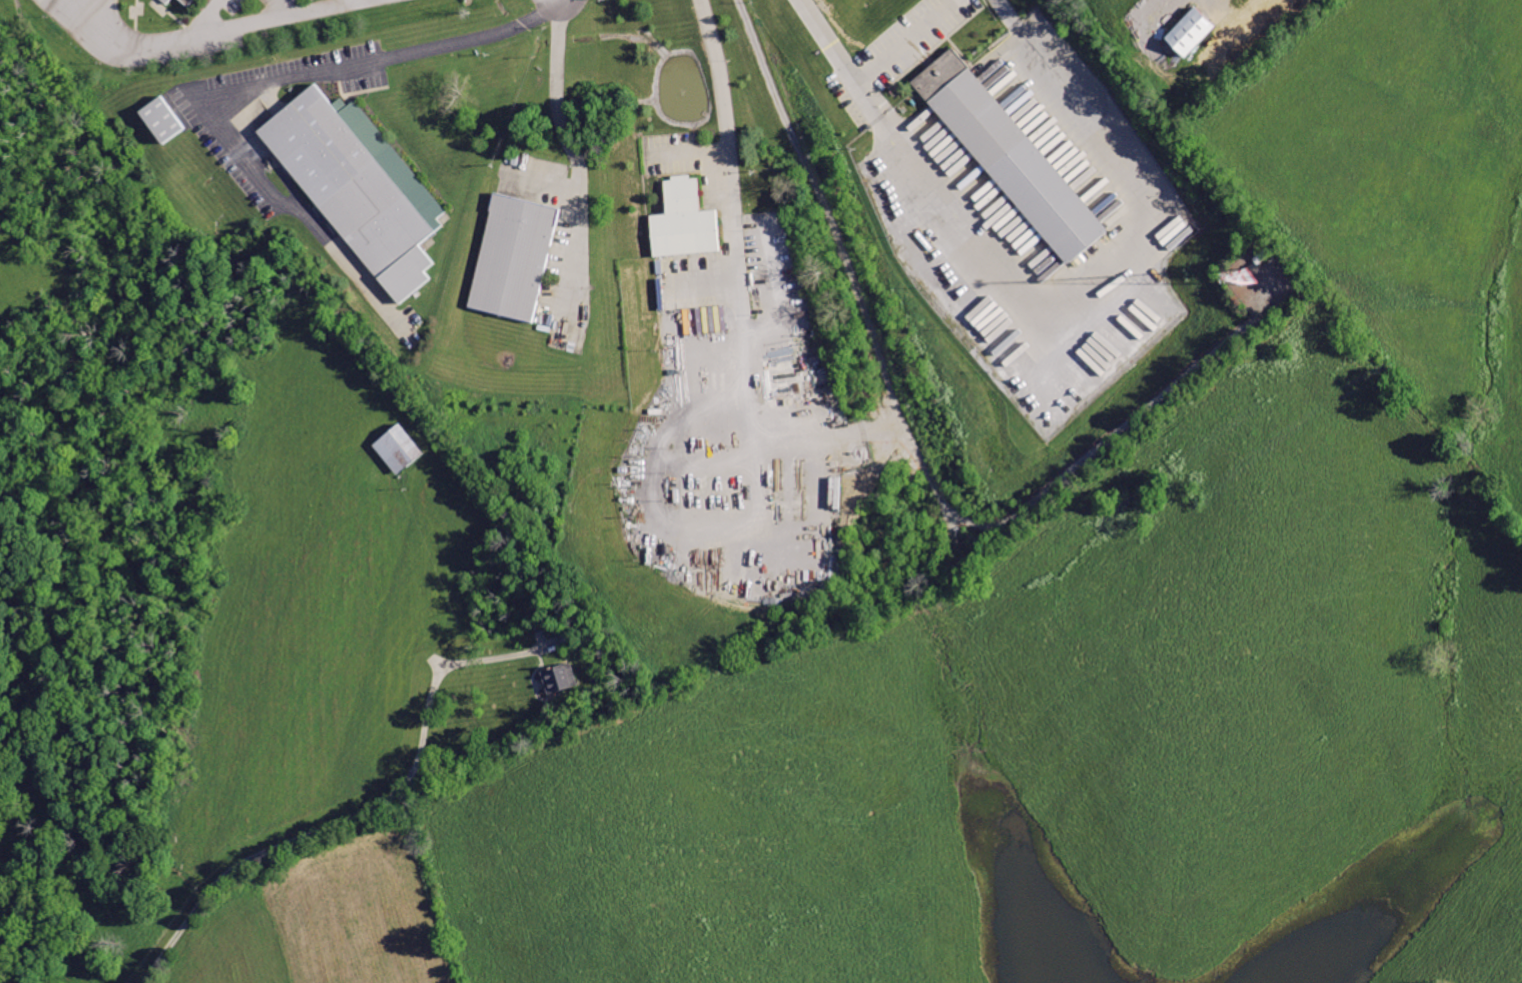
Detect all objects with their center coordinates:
building: (166, 1)
building: (192, 3)
road: (202, 17)
building: (1190, 32)
road: (207, 36)
road: (870, 74)
road: (259, 92)
road: (727, 116)
building: (164, 120)
road: (576, 154)
building: (1014, 159)
road: (546, 185)
building: (362, 187)
road: (830, 212)
building: (690, 224)
building: (519, 258)
road: (1082, 273)
road: (775, 450)
building: (401, 451)
building: (559, 679)
road: (354, 813)

